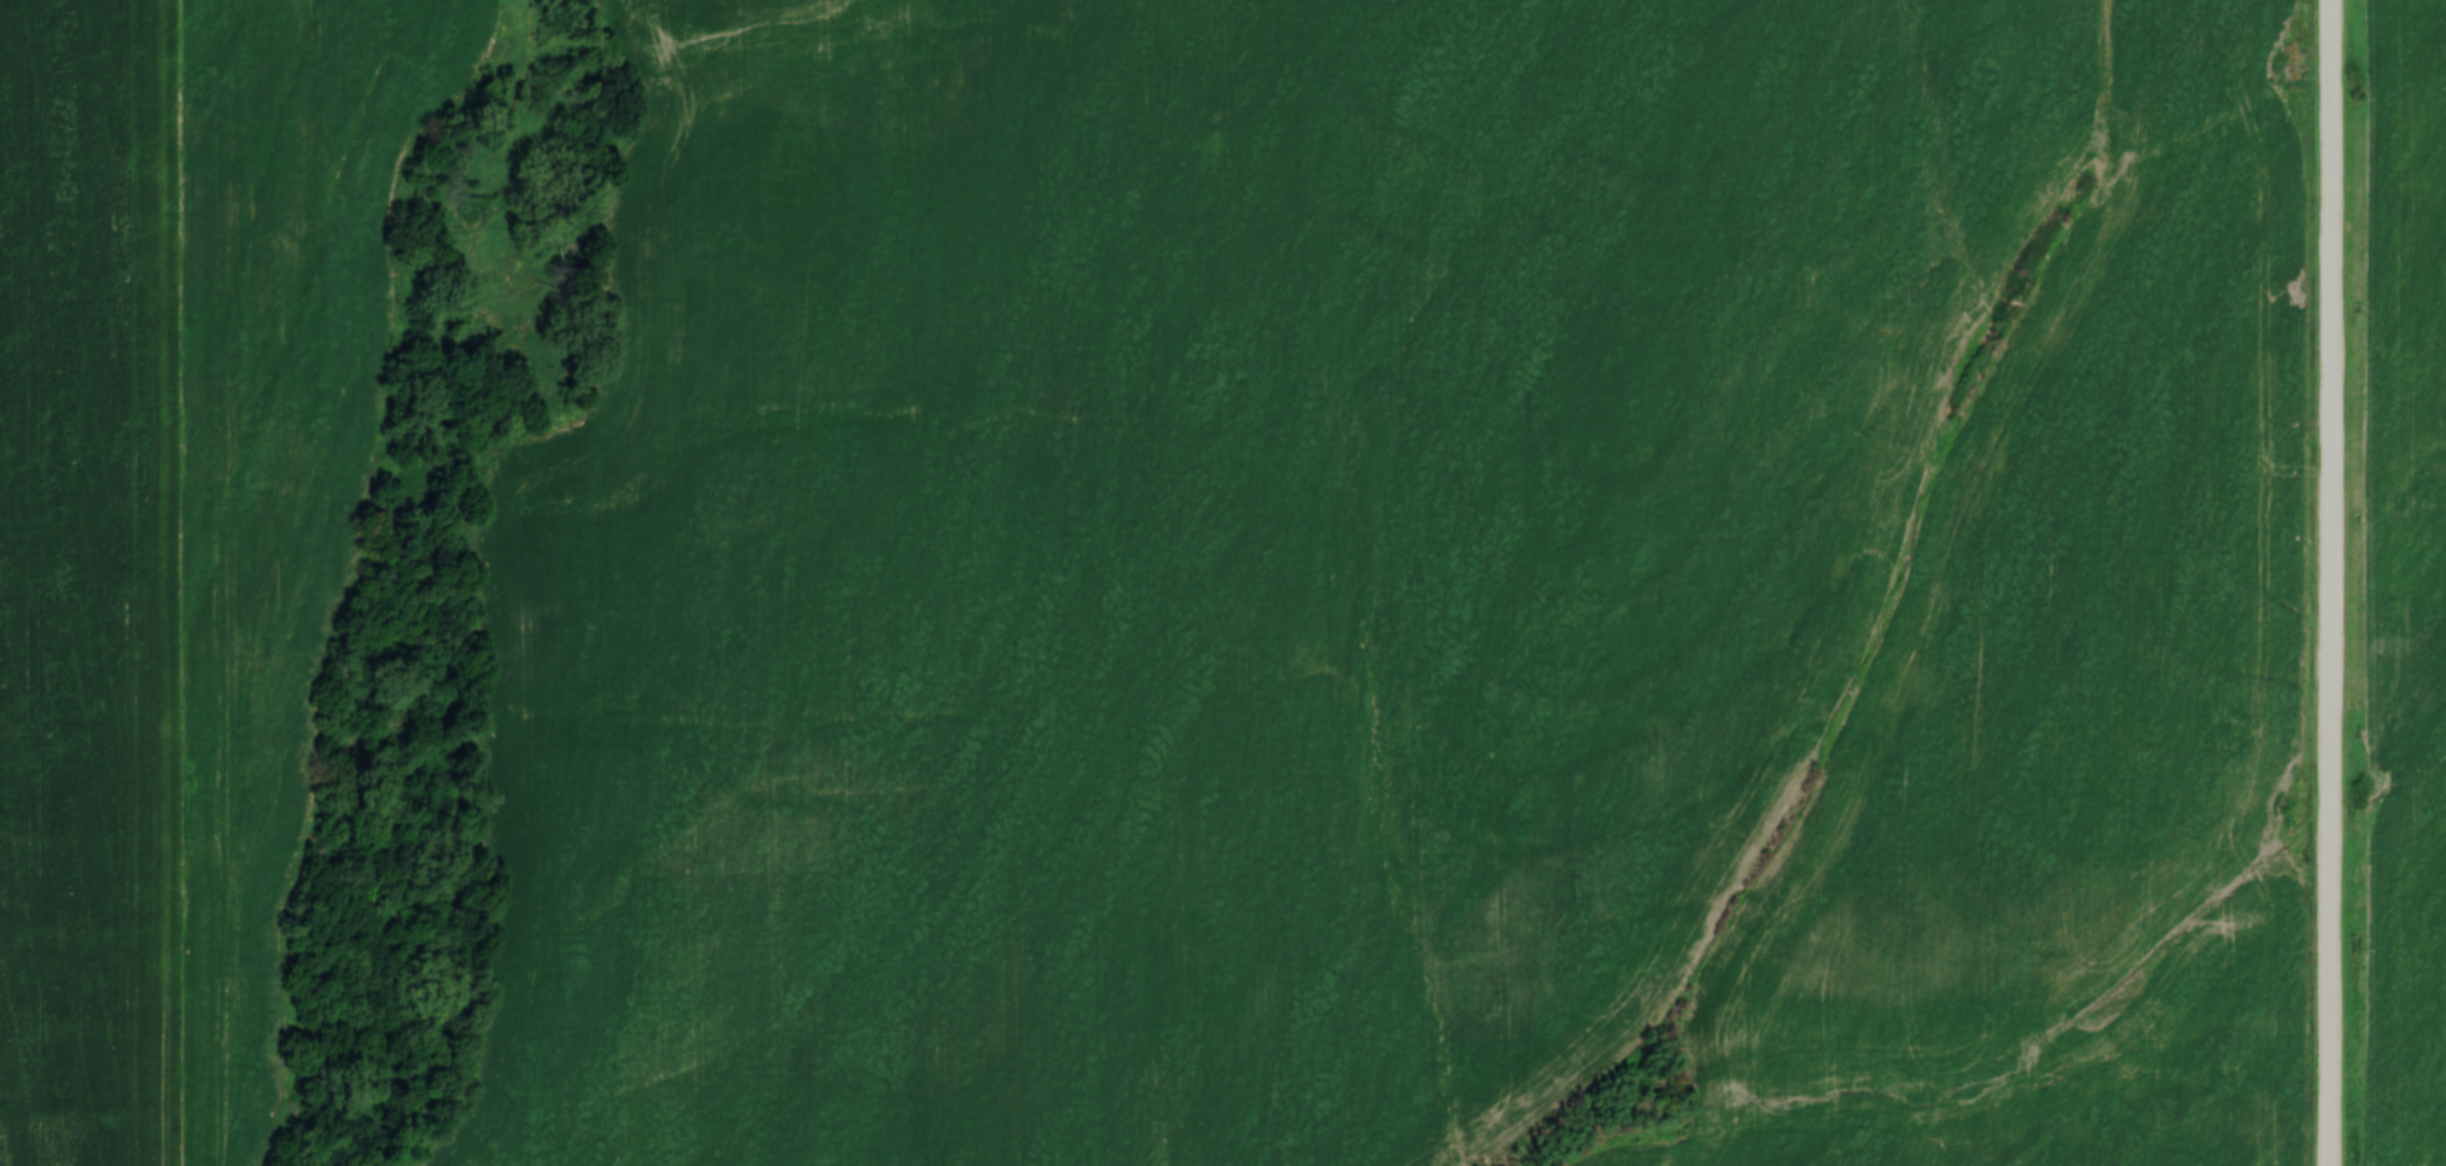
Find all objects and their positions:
road: (2329, 583)

